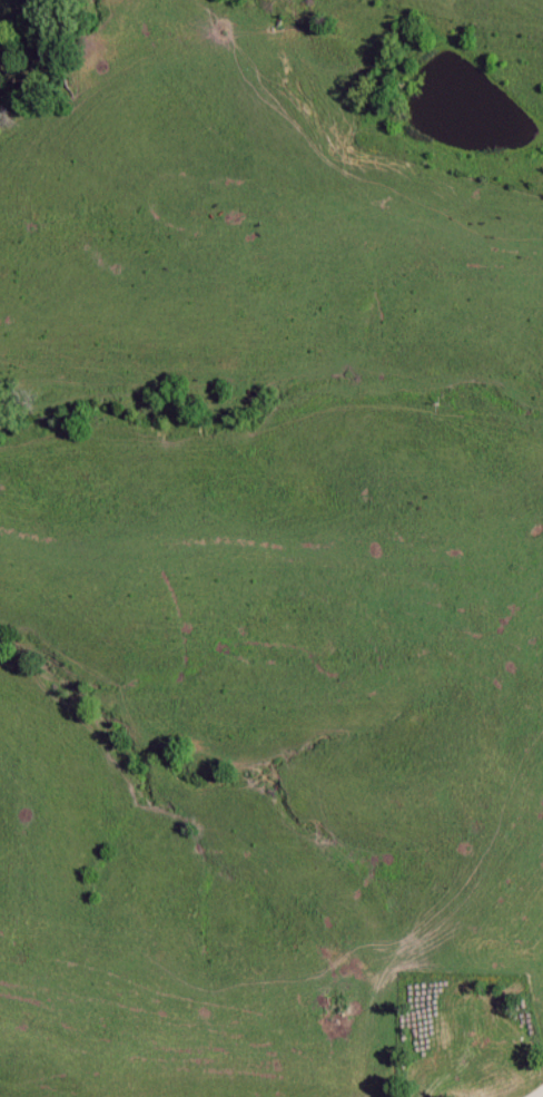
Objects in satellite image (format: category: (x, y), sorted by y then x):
road: (533, 1090)

